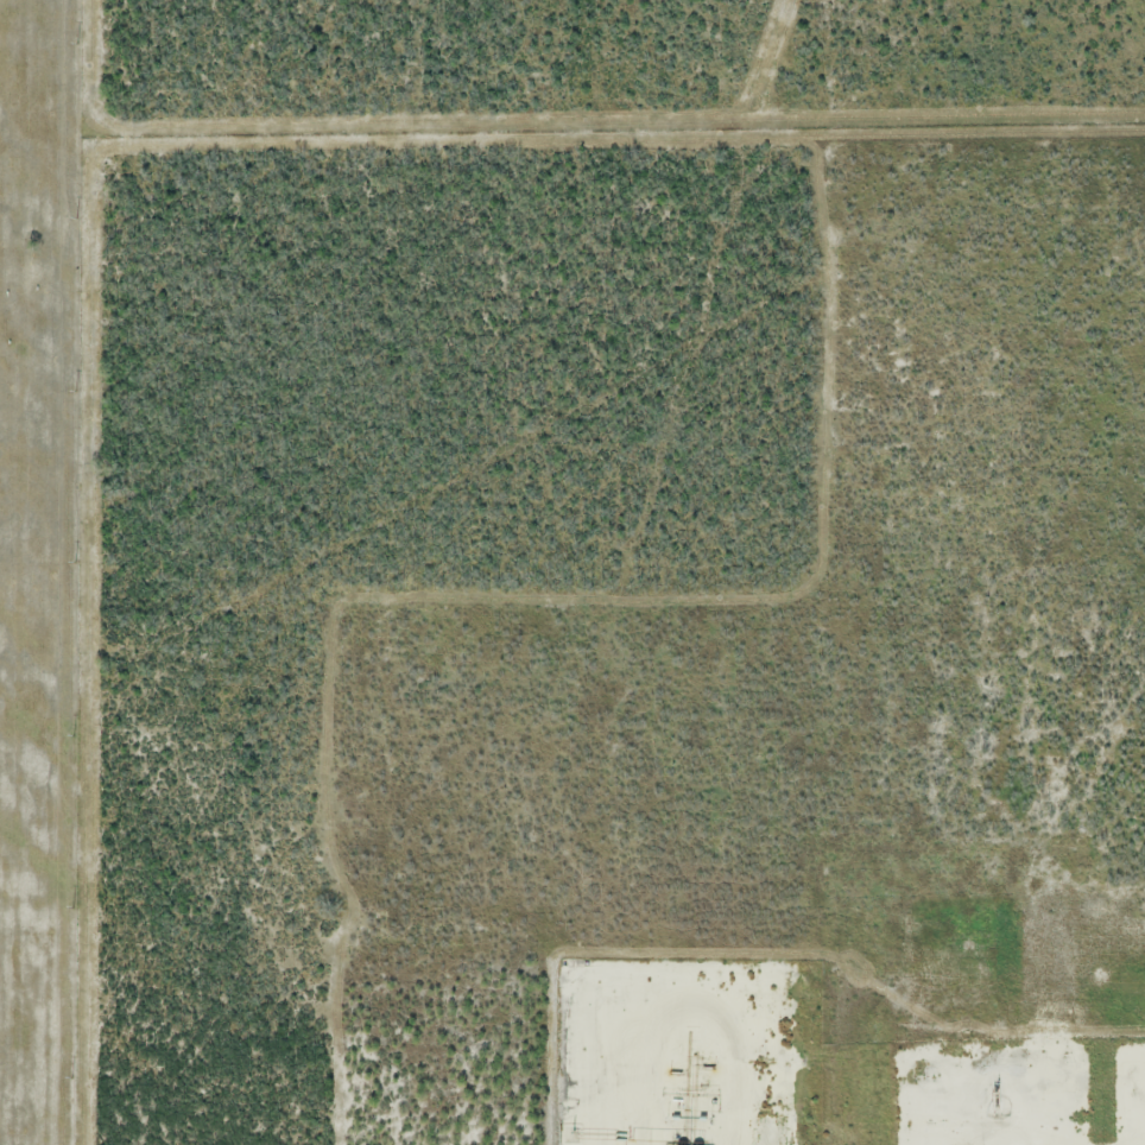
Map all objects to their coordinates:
road: (650, 1042)

